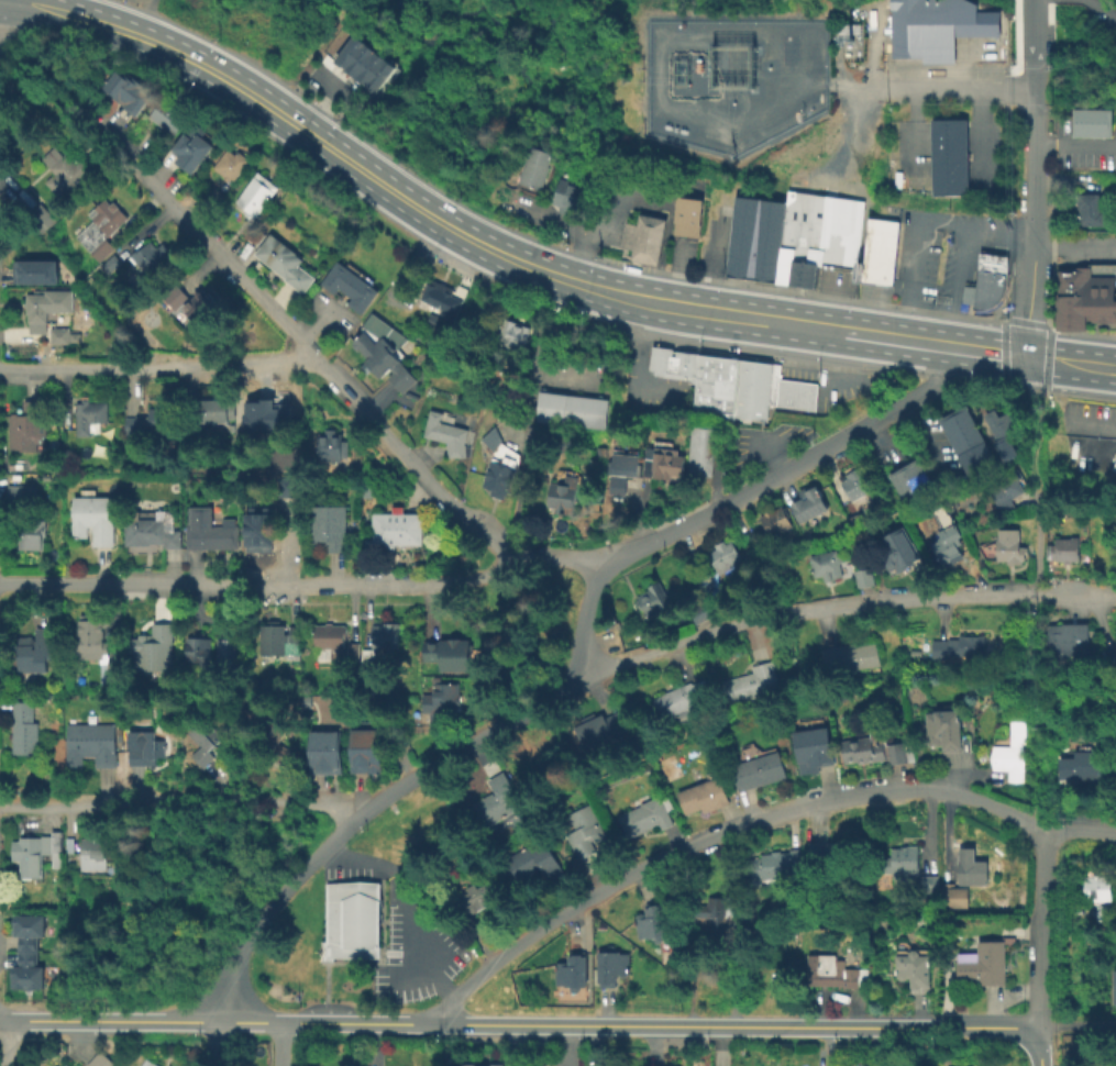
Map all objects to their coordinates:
road: (0, 0)
road: (0, 2)
road: (153, 12)
road: (1102, 14)
building: (933, 27)
road: (5, 30)
road: (135, 35)
road: (1034, 36)
building: (347, 49)
building: (357, 57)
building: (368, 66)
road: (49, 69)
building: (379, 75)
power substation: (732, 82)
road: (961, 84)
building: (129, 91)
building: (167, 118)
building: (1090, 121)
road: (976, 132)
road: (310, 135)
road: (1036, 145)
road: (1075, 146)
building: (191, 147)
parking lot: (1083, 151)
building: (948, 156)
building: (230, 162)
building: (532, 169)
building: (65, 171)
road: (10, 191)
building: (254, 195)
building: (213, 197)
building: (566, 199)
building: (722, 200)
building: (1086, 209)
building: (38, 218)
road: (548, 219)
road: (614, 219)
building: (685, 220)
road: (939, 224)
building: (99, 227)
road: (463, 235)
building: (814, 238)
building: (629, 240)
building: (751, 243)
building: (648, 244)
parking lot: (1084, 244)
road: (1039, 246)
building: (874, 253)
parking lot: (931, 255)
building: (152, 258)
building: (283, 262)
building: (110, 263)
road: (576, 265)
building: (990, 265)
building: (34, 270)
building: (347, 285)
road: (592, 287)
road: (1030, 288)
road: (787, 290)
building: (985, 290)
road: (619, 295)
building: (173, 296)
building: (1084, 296)
building: (439, 298)
road: (644, 300)
building: (200, 306)
building: (35, 311)
road: (716, 312)
road: (1025, 322)
road: (810, 326)
road: (1082, 332)
building: (58, 335)
building: (513, 335)
road: (874, 335)
road: (297, 336)
road: (927, 343)
road: (544, 346)
road: (804, 347)
street lamp: (698, 348)
building: (382, 349)
road: (714, 352)
road: (988, 352)
road: (1001, 352)
building: (658, 354)
road: (842, 354)
traffic signals: (1025, 357)
road: (1036, 358)
road: (1047, 358)
building: (693, 359)
road: (797, 363)
road: (1081, 363)
road: (632, 364)
road: (820, 366)
road: (158, 368)
building: (658, 368)
road: (842, 368)
building: (681, 371)
road: (891, 373)
building: (494, 375)
road: (938, 376)
road: (979, 381)
building: (770, 384)
building: (714, 385)
road: (1023, 388)
building: (749, 389)
building: (794, 395)
road: (1080, 396)
building: (213, 410)
building: (570, 412)
building: (87, 414)
building: (267, 414)
building: (152, 423)
building: (27, 427)
building: (1003, 431)
building: (444, 433)
building: (701, 435)
building: (965, 438)
building: (559, 443)
building: (54, 444)
parking lot: (764, 444)
building: (330, 445)
building: (661, 460)
road: (1034, 460)
building: (1113, 460)
building: (610, 462)
building: (698, 462)
building: (627, 464)
building: (497, 465)
building: (55, 467)
road: (789, 469)
road: (717, 473)
building: (46, 476)
building: (911, 481)
building: (852, 482)
building: (1004, 489)
building: (562, 495)
building: (12, 498)
building: (806, 502)
building: (968, 515)
building: (92, 518)
building: (773, 520)
building: (328, 526)
building: (151, 528)
building: (206, 530)
building: (262, 531)
building: (31, 533)
building: (397, 533)
building: (943, 535)
road: (287, 538)
road: (1039, 542)
building: (1007, 545)
building: (897, 547)
building: (1063, 548)
building: (725, 552)
road: (557, 558)
building: (824, 563)
building: (862, 576)
road: (259, 584)
road: (1076, 591)
road: (980, 595)
building: (650, 600)
road: (808, 609)
building: (699, 610)
road: (584, 615)
road: (1032, 630)
building: (386, 634)
building: (330, 635)
building: (278, 636)
building: (1070, 639)
road: (506, 645)
building: (955, 645)
building: (97, 646)
building: (198, 647)
building: (36, 649)
building: (154, 649)
building: (354, 651)
building: (228, 652)
building: (453, 655)
road: (644, 657)
road: (1034, 657)
building: (848, 660)
building: (369, 663)
building: (752, 681)
road: (1036, 695)
building: (682, 698)
building: (443, 699)
building: (601, 725)
building: (942, 728)
building: (23, 729)
road: (1036, 730)
building: (206, 740)
building: (91, 743)
building: (275, 744)
building: (872, 746)
building: (144, 747)
building: (811, 748)
building: (366, 749)
building: (324, 751)
building: (1009, 752)
building: (755, 769)
building: (1079, 770)
building: (1114, 770)
road: (1040, 784)
building: (700, 795)
building: (496, 800)
road: (180, 804)
road: (367, 811)
building: (643, 815)
road: (753, 824)
building: (585, 830)
building: (36, 852)
building: (409, 852)
building: (827, 853)
building: (91, 854)
building: (533, 860)
building: (777, 860)
building: (969, 865)
building: (909, 868)
road: (374, 880)
road: (341, 881)
building: (1094, 890)
building: (953, 895)
building: (473, 898)
road: (411, 902)
building: (712, 914)
building: (1104, 914)
building: (929, 918)
building: (350, 920)
building: (652, 920)
road: (573, 926)
road: (1037, 926)
building: (26, 930)
parking lot: (402, 931)
road: (377, 952)
road: (389, 952)
road: (708, 953)
road: (350, 962)
building: (608, 965)
building: (977, 966)
building: (911, 968)
building: (572, 969)
building: (831, 970)
building: (25, 971)
street lamp: (454, 977)
road: (324, 980)
building: (1113, 987)
road: (605, 1006)
parking lot: (327, 1007)
road: (108, 1019)
road: (332, 1019)
road: (742, 1023)
road: (1076, 1025)
road: (277, 1042)
road: (213, 1043)
road: (13, 1044)
road: (516, 1044)
road: (1037, 1045)
building: (101, 1059)
building: (147, 1063)
building: (479, 1064)
building: (64, 1065)
building: (66, 1065)

